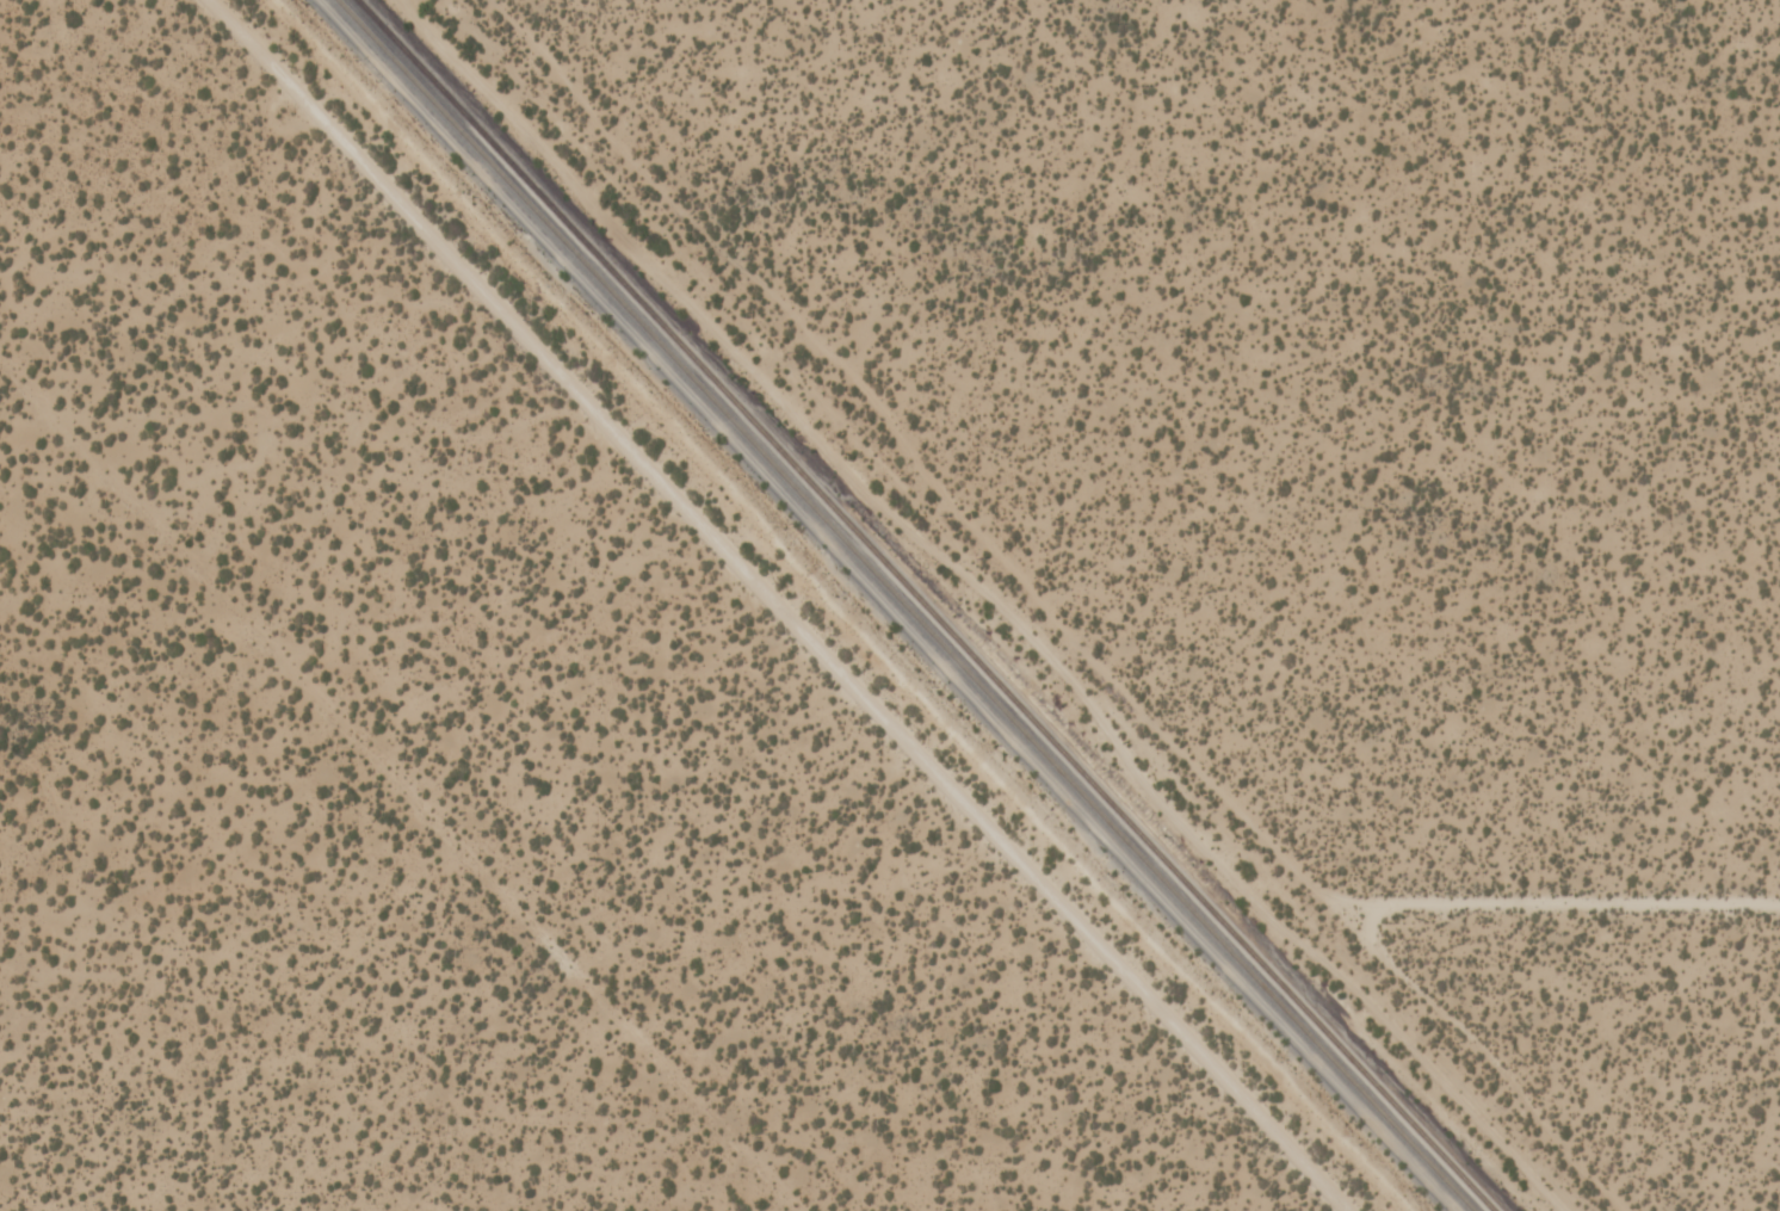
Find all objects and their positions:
road: (983, 598)
road: (765, 605)
railway: (903, 605)
railway: (922, 605)
road: (1046, 608)
road: (402, 781)
road: (1546, 903)

